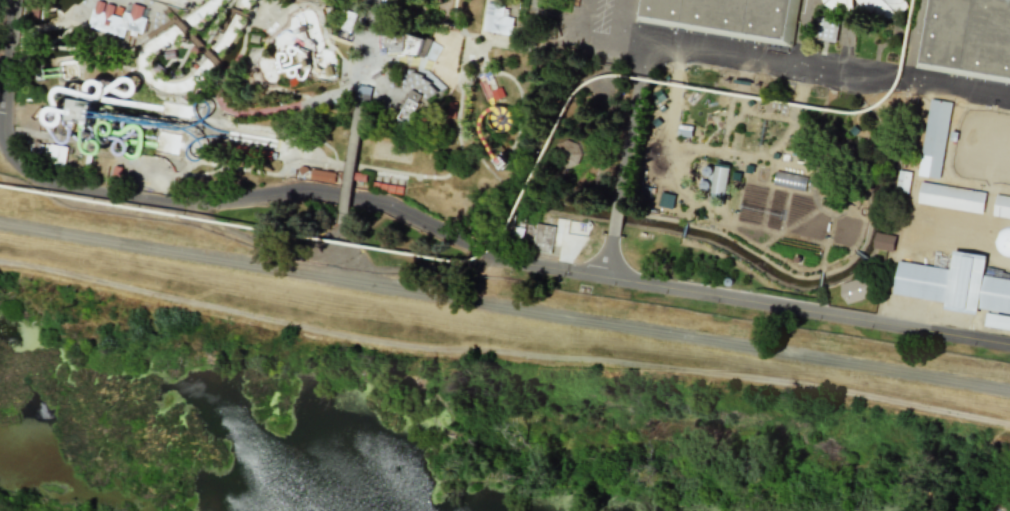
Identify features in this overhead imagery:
building: (882, 1)
building: (119, 10)
building: (34, 13)
building: (727, 15)
building: (117, 19)
building: (496, 19)
road: (624, 20)
building: (350, 21)
building: (826, 29)
building: (344, 34)
road: (583, 35)
building: (967, 37)
building: (253, 38)
building: (350, 38)
building: (403, 43)
road: (5, 51)
building: (168, 53)
building: (306, 60)
road: (643, 66)
building: (158, 69)
building: (328, 70)
building: (175, 73)
road: (815, 74)
toll booth: (362, 89)
building: (366, 92)
building: (497, 94)
building: (409, 105)
building: (450, 110)
building: (85, 111)
building: (501, 118)
theme park: (559, 133)
building: (935, 139)
park: (983, 146)
building: (36, 147)
building: (240, 148)
building: (54, 154)
road: (625, 160)
building: (503, 161)
road: (349, 168)
building: (116, 172)
building: (320, 175)
building: (358, 176)
building: (719, 180)
building: (789, 181)
building: (903, 182)
building: (386, 187)
road: (266, 194)
building: (951, 197)
building: (665, 200)
railway: (519, 201)
building: (1002, 206)
building: (543, 238)
road: (608, 255)
building: (955, 284)
building: (854, 290)
road: (773, 303)
road: (504, 307)
building: (997, 321)
road: (503, 351)

